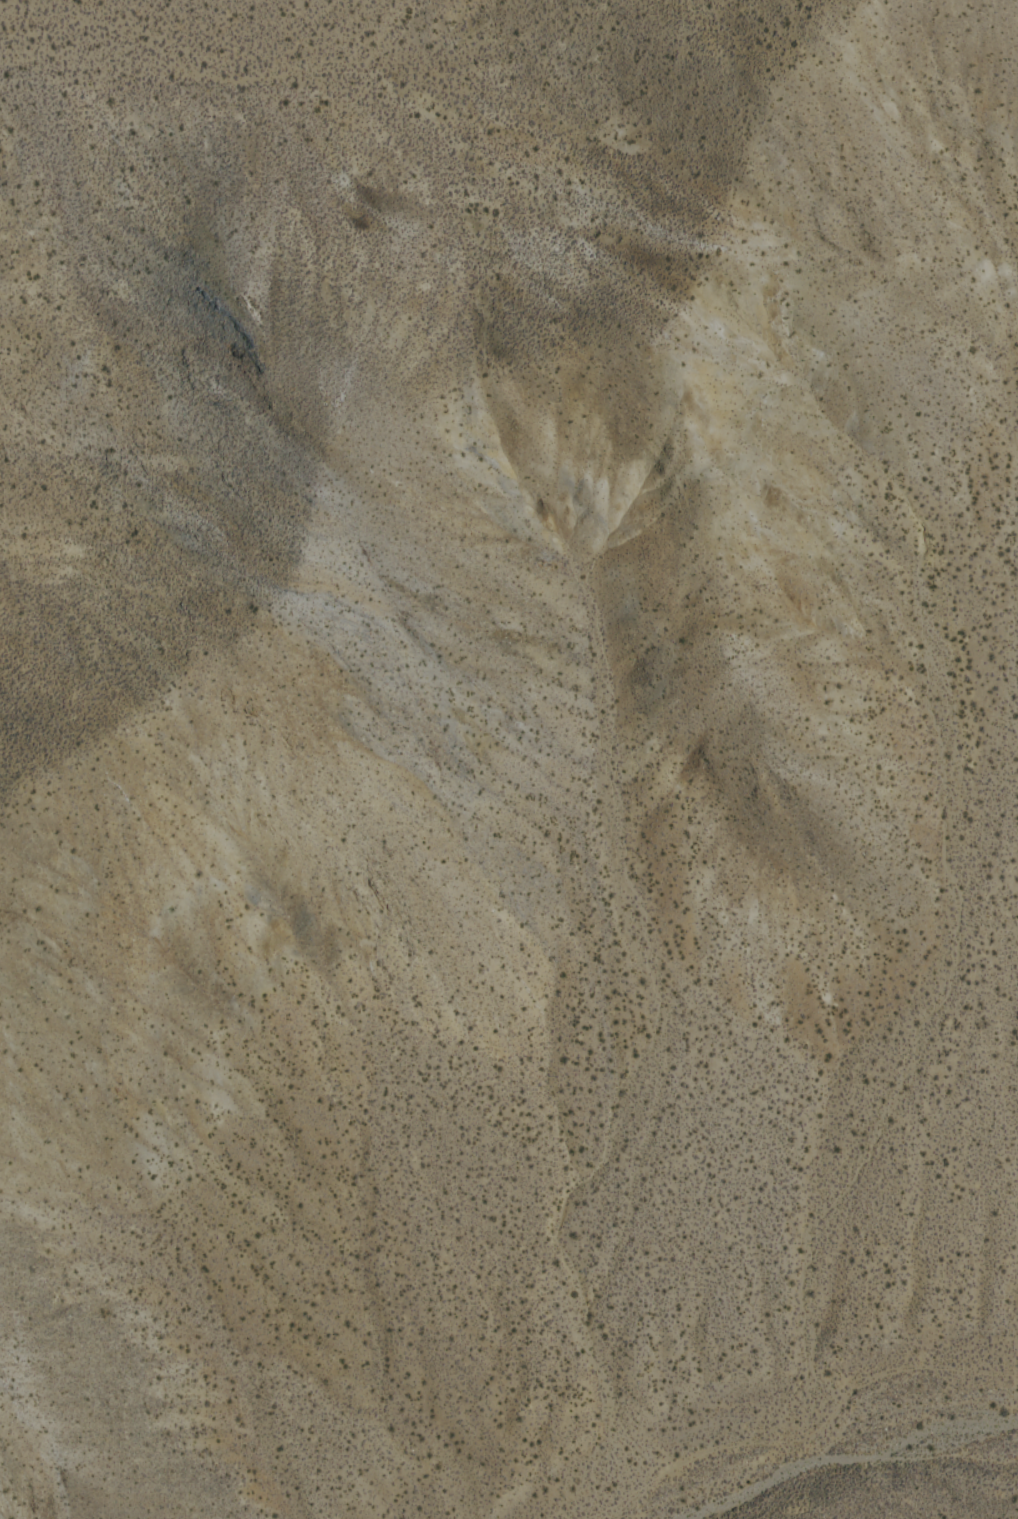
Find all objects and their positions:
road: (806, 1438)

